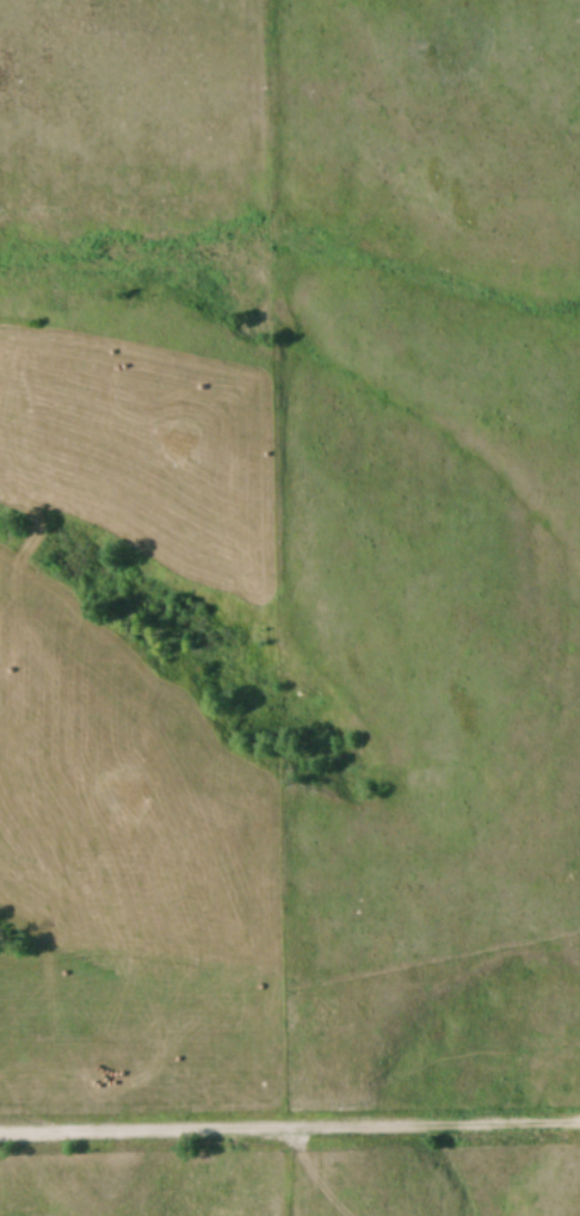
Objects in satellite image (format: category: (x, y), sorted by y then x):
road: (290, 1129)

